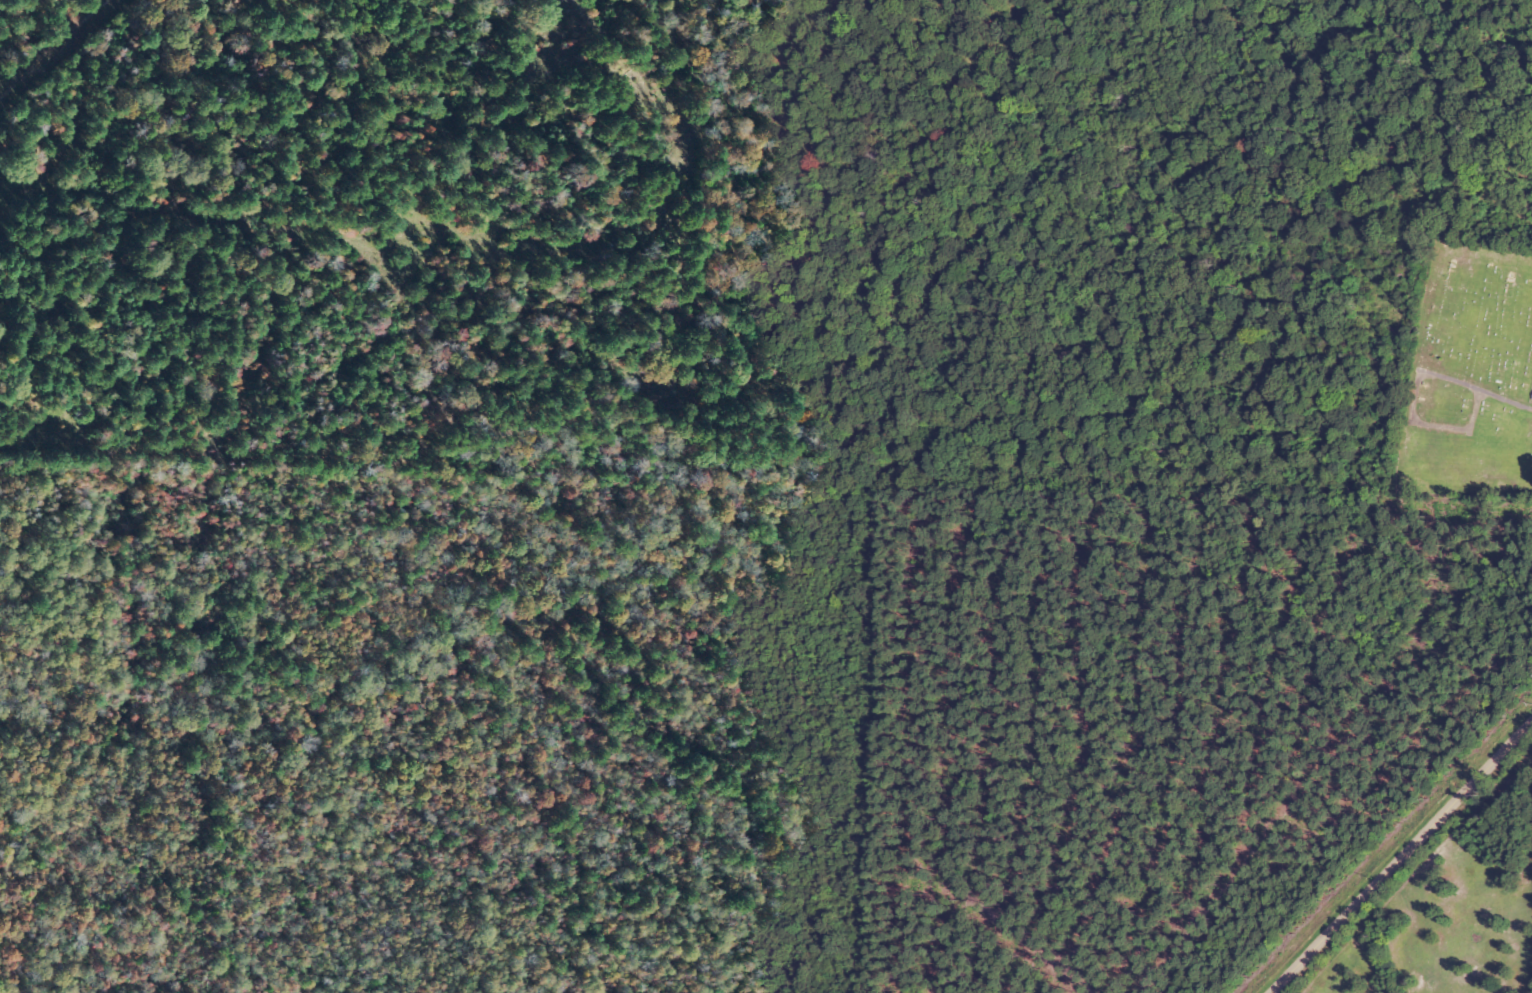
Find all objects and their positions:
road: (1436, 895)

